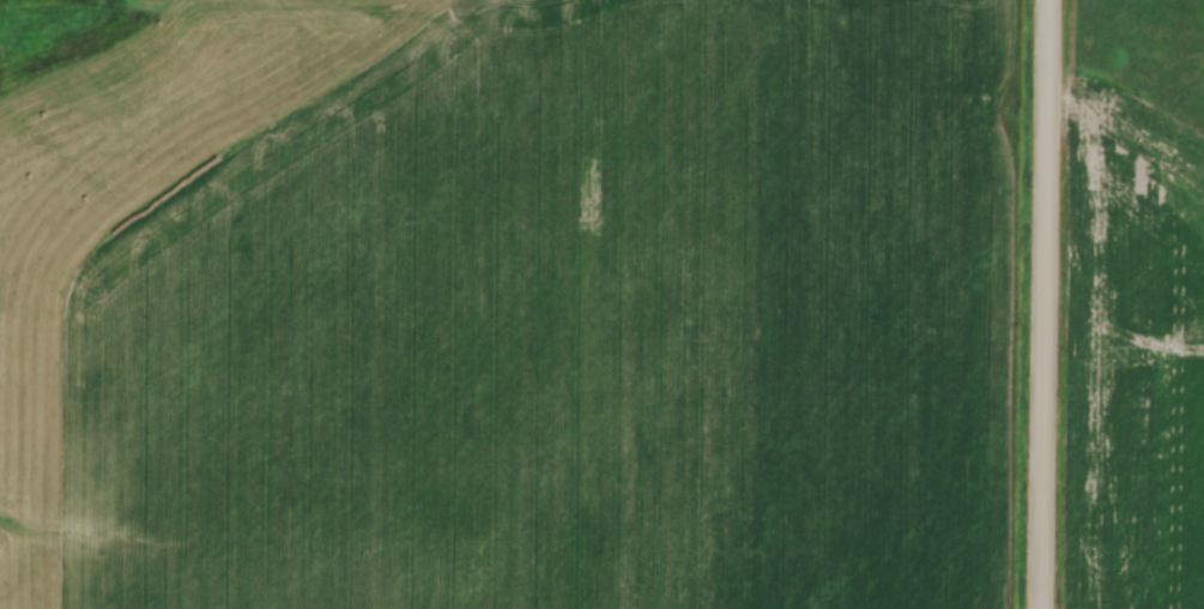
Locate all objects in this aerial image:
road: (1037, 304)

